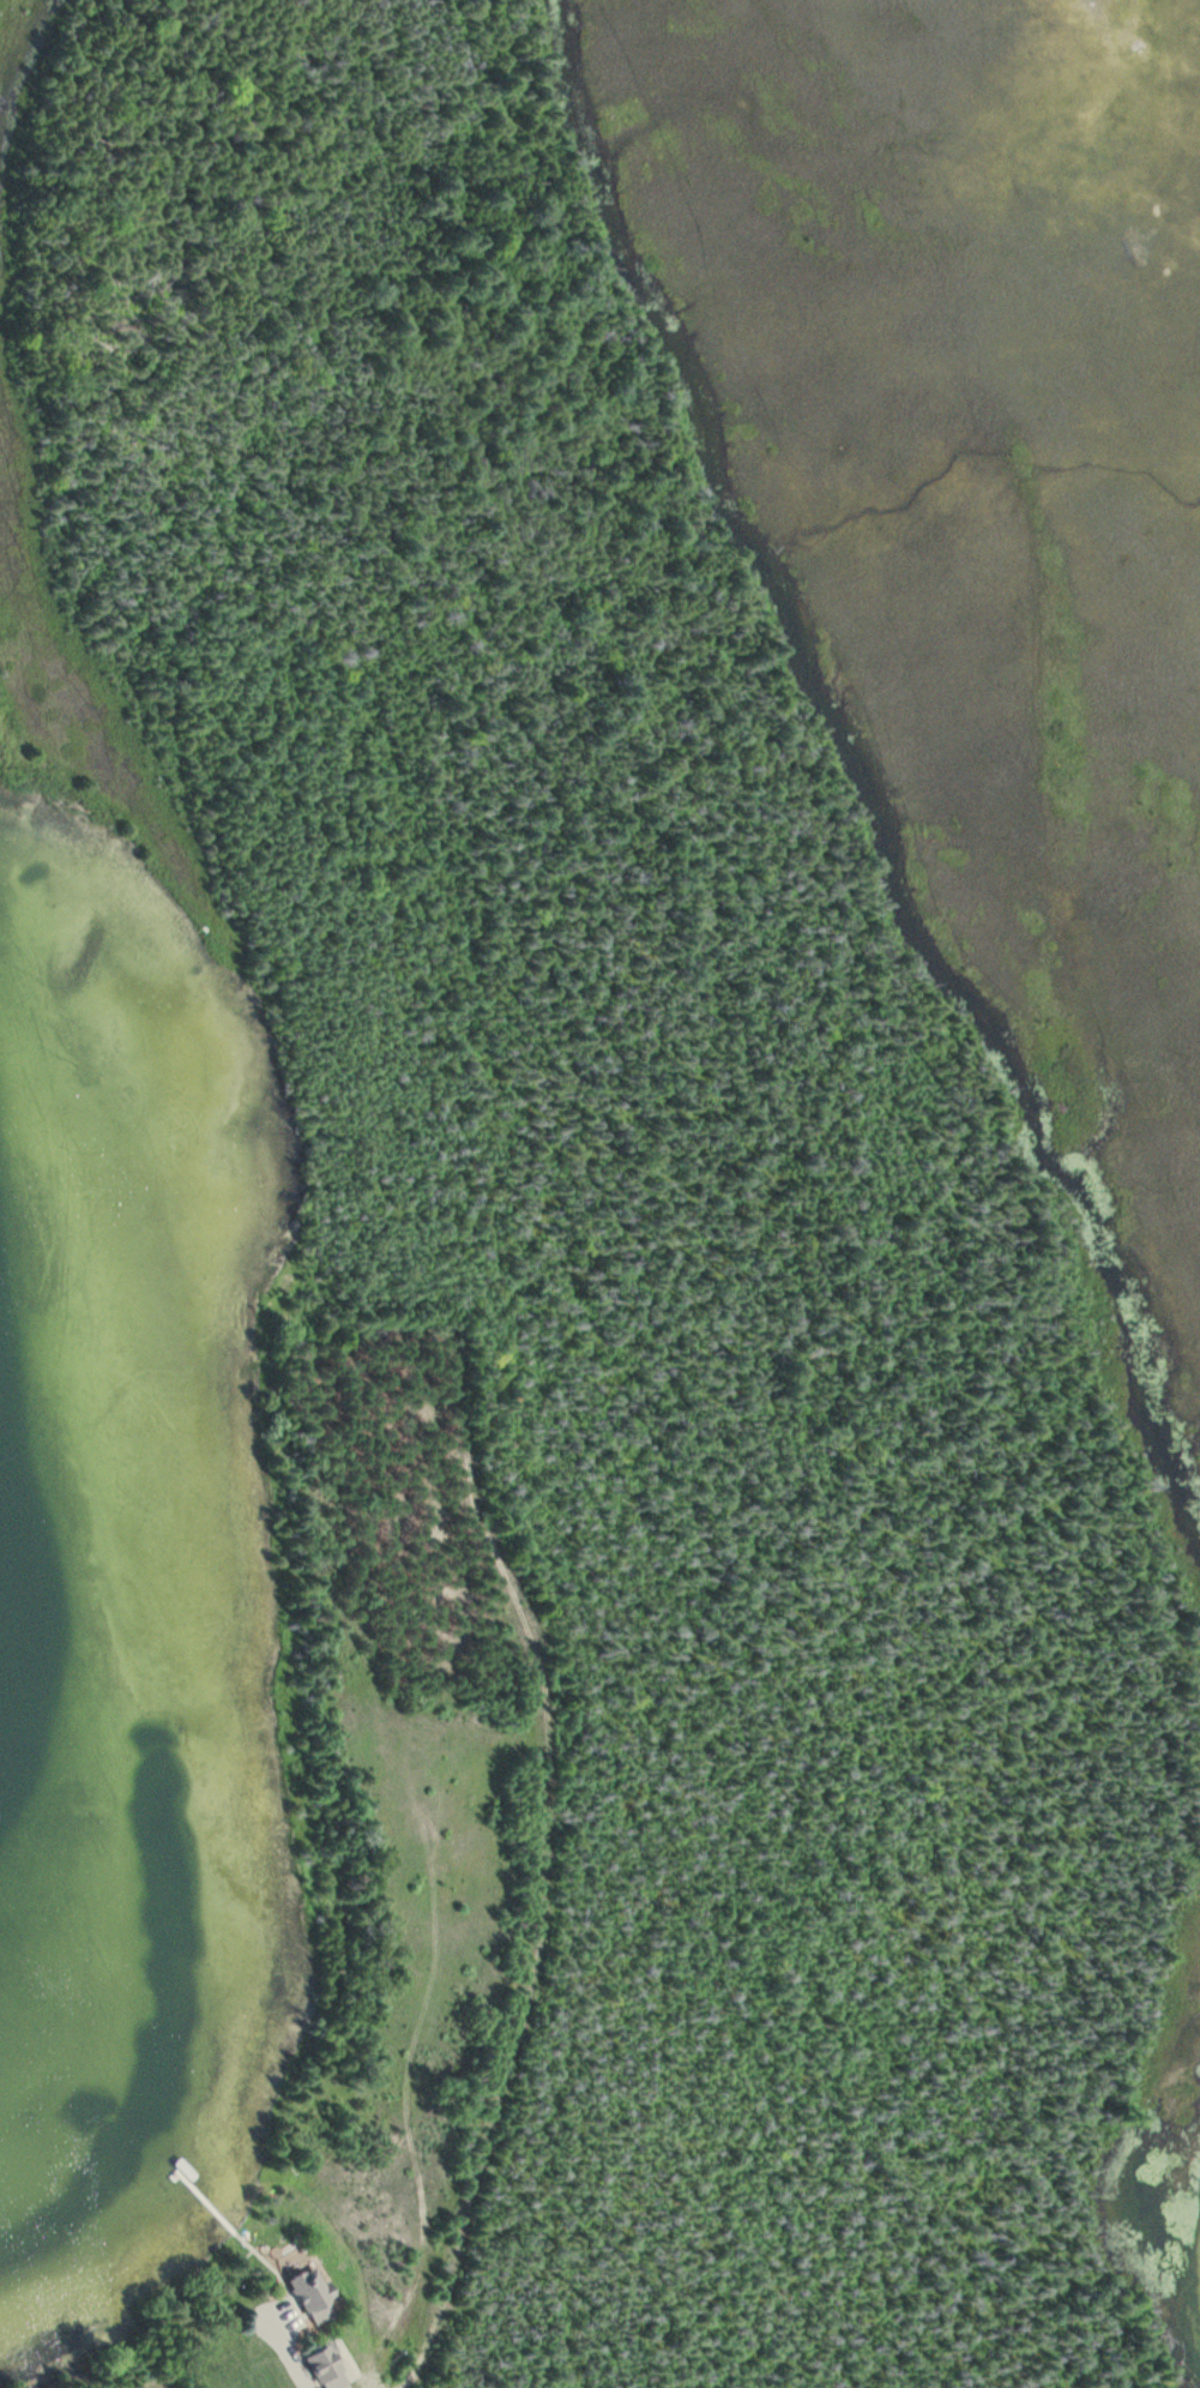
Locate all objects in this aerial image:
road: (538, 1908)
building: (314, 2291)
road: (287, 2354)
building: (330, 2369)

